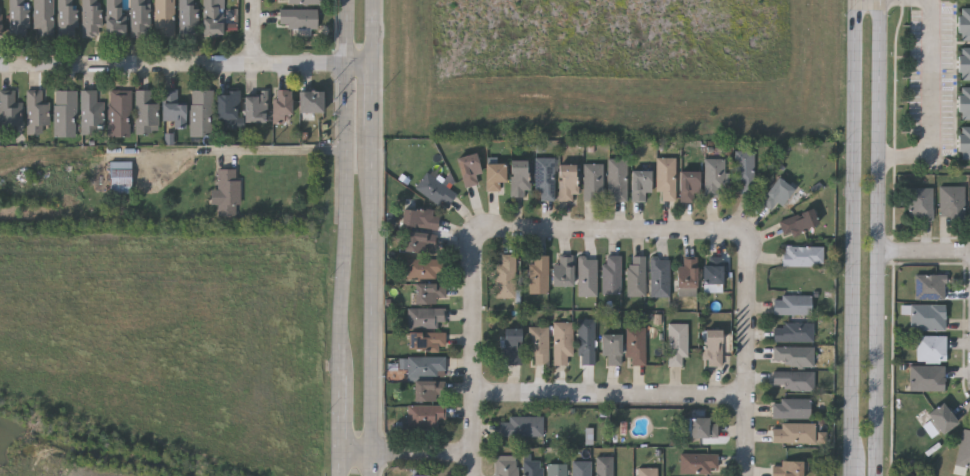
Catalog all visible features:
building: (300, 1)
building: (186, 17)
building: (17, 18)
building: (42, 18)
building: (66, 18)
building: (90, 18)
building: (114, 18)
building: (138, 18)
building: (164, 18)
building: (211, 18)
building: (297, 18)
building: (964, 23)
building: (1, 26)
road: (255, 32)
building: (964, 63)
road: (187, 65)
building: (310, 101)
building: (964, 102)
building: (280, 105)
road: (931, 106)
building: (254, 107)
building: (10, 109)
building: (173, 109)
building: (226, 110)
building: (145, 111)
building: (90, 112)
building: (36, 113)
building: (64, 113)
building: (119, 113)
building: (200, 113)
road: (250, 140)
building: (965, 141)
building: (468, 169)
building: (743, 170)
building: (493, 176)
building: (119, 177)
building: (517, 177)
building: (713, 177)
building: (664, 178)
building: (543, 179)
building: (616, 179)
building: (566, 182)
building: (592, 182)
building: (639, 186)
building: (688, 186)
road: (347, 187)
building: (435, 189)
building: (227, 192)
building: (775, 194)
building: (950, 200)
building: (918, 202)
building: (419, 218)
building: (797, 222)
road: (854, 227)
road: (620, 230)
road: (375, 237)
road: (877, 237)
building: (418, 242)
road: (923, 253)
building: (801, 256)
building: (422, 268)
building: (562, 271)
building: (537, 274)
building: (712, 274)
building: (610, 275)
building: (586, 276)
building: (635, 276)
building: (504, 277)
building: (686, 277)
building: (659, 278)
building: (928, 286)
building: (427, 292)
building: (791, 304)
building: (927, 316)
building: (425, 317)
building: (793, 332)
building: (425, 341)
building: (586, 341)
building: (562, 342)
building: (676, 342)
building: (511, 345)
building: (537, 345)
building: (634, 345)
building: (715, 345)
road: (477, 347)
building: (610, 347)
building: (929, 347)
building: (792, 355)
road: (749, 356)
building: (423, 366)
building: (925, 377)
building: (792, 380)
building: (427, 390)
road: (613, 396)
building: (793, 408)
building: (423, 414)
building: (940, 417)
road: (339, 425)
building: (521, 426)
building: (701, 427)
building: (794, 433)
building: (963, 448)
road: (408, 453)
building: (698, 463)
building: (505, 465)
building: (603, 466)
road: (855, 466)
building: (531, 467)
building: (581, 468)
building: (786, 468)
building: (556, 470)
building: (647, 471)
building: (419, 475)

